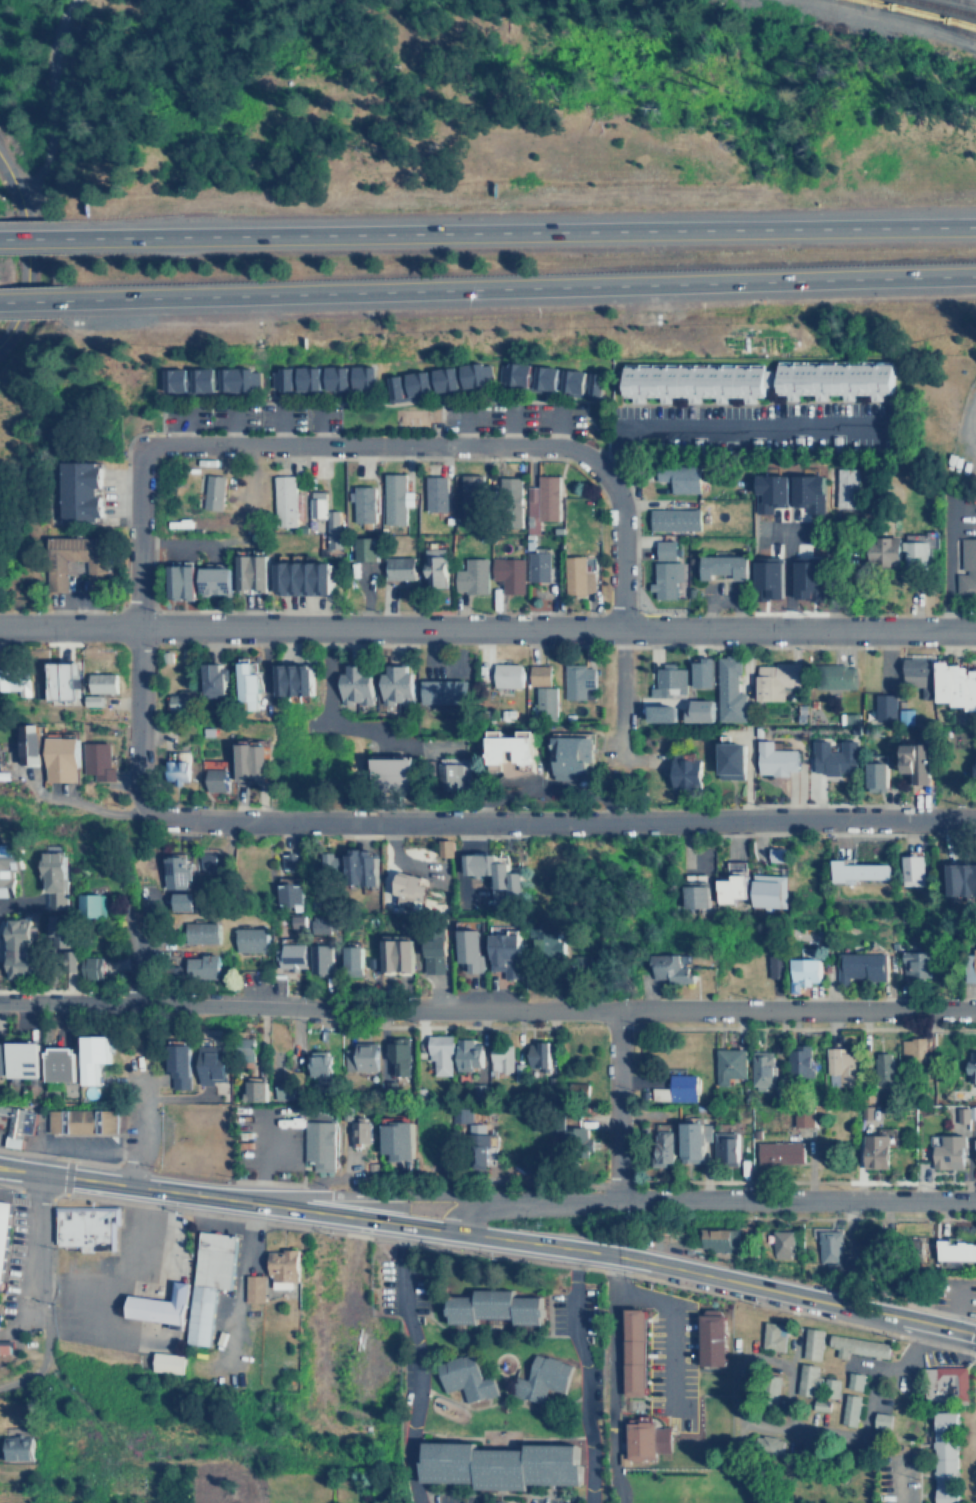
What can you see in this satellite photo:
railway: (944, 8)
railway: (921, 13)
railway: (925, 17)
park: (185, 18)
road: (48, 98)
road: (519, 228)
road: (31, 237)
road: (24, 249)
road: (522, 286)
road: (34, 301)
building: (831, 377)
building: (320, 379)
building: (544, 379)
building: (207, 380)
building: (690, 380)
building: (429, 381)
road: (186, 424)
road: (233, 424)
road: (465, 424)
road: (511, 424)
road: (559, 424)
road: (282, 425)
road: (318, 425)
road: (733, 426)
road: (376, 444)
road: (969, 448)
building: (677, 474)
building: (843, 487)
building: (76, 491)
building: (212, 492)
building: (769, 492)
building: (803, 493)
building: (436, 494)
building: (394, 497)
building: (470, 497)
building: (547, 498)
building: (284, 501)
building: (507, 501)
building: (315, 504)
building: (362, 504)
building: (673, 518)
building: (333, 529)
road: (139, 535)
road: (198, 546)
road: (620, 547)
building: (664, 548)
building: (363, 549)
building: (914, 552)
building: (879, 555)
road: (942, 561)
building: (433, 563)
building: (536, 565)
building: (721, 566)
building: (398, 568)
road: (829, 570)
road: (793, 571)
building: (965, 572)
building: (251, 573)
building: (507, 573)
building: (53, 575)
building: (576, 575)
building: (472, 576)
building: (666, 577)
building: (300, 578)
building: (769, 578)
building: (807, 578)
building: (178, 582)
building: (216, 582)
parking lot: (717, 591)
road: (722, 597)
road: (487, 627)
building: (185, 654)
building: (165, 656)
road: (430, 662)
building: (579, 665)
parking lot: (443, 667)
building: (706, 670)
building: (504, 675)
building: (210, 676)
building: (833, 676)
building: (914, 676)
road: (322, 677)
building: (537, 677)
building: (291, 678)
building: (13, 679)
building: (576, 679)
building: (59, 680)
building: (773, 680)
building: (99, 681)
building: (243, 681)
building: (667, 681)
building: (353, 683)
building: (954, 683)
building: (393, 684)
building: (728, 688)
building: (442, 691)
building: (89, 700)
road: (651, 701)
building: (175, 703)
building: (542, 704)
building: (881, 708)
building: (701, 710)
building: (667, 711)
building: (905, 716)
building: (568, 717)
road: (616, 719)
road: (140, 722)
road: (379, 738)
building: (30, 744)
building: (507, 752)
building: (571, 756)
building: (61, 759)
building: (727, 759)
building: (98, 760)
building: (248, 760)
building: (775, 760)
building: (912, 760)
building: (834, 761)
building: (400, 765)
building: (973, 769)
building: (176, 771)
building: (683, 774)
building: (873, 774)
building: (447, 776)
building: (213, 780)
road: (544, 792)
road: (516, 822)
building: (442, 847)
building: (774, 854)
building: (472, 862)
building: (212, 863)
building: (325, 863)
building: (282, 864)
building: (356, 865)
building: (9, 866)
building: (909, 869)
building: (855, 870)
building: (176, 871)
building: (959, 878)
building: (503, 879)
building: (404, 885)
building: (729, 887)
building: (282, 890)
building: (764, 891)
building: (692, 895)
building: (184, 901)
building: (93, 905)
building: (296, 921)
building: (323, 926)
building: (202, 932)
building: (251, 939)
road: (141, 946)
building: (550, 947)
building: (17, 948)
building: (472, 949)
building: (507, 953)
building: (396, 954)
building: (292, 955)
building: (436, 955)
building: (321, 958)
building: (69, 961)
building: (353, 961)
building: (916, 964)
building: (202, 966)
building: (775, 966)
building: (969, 966)
building: (92, 967)
building: (671, 967)
building: (861, 967)
building: (804, 973)
road: (487, 1008)
building: (914, 1047)
building: (247, 1049)
building: (441, 1053)
building: (468, 1055)
building: (538, 1055)
building: (93, 1057)
building: (361, 1057)
building: (398, 1057)
building: (501, 1058)
building: (1, 1059)
building: (24, 1060)
building: (800, 1061)
building: (212, 1064)
building: (60, 1065)
building: (179, 1065)
building: (730, 1065)
building: (972, 1066)
building: (321, 1067)
building: (884, 1067)
building: (763, 1070)
building: (683, 1088)
building: (255, 1091)
building: (660, 1093)
road: (615, 1105)
building: (966, 1114)
building: (804, 1118)
building: (78, 1120)
road: (141, 1121)
building: (15, 1126)
building: (361, 1132)
parking lot: (1, 1136)
building: (577, 1136)
building: (393, 1139)
parking lot: (25, 1141)
building: (693, 1141)
building: (974, 1143)
building: (316, 1145)
building: (478, 1146)
building: (663, 1147)
building: (725, 1147)
road: (77, 1148)
building: (876, 1151)
building: (780, 1152)
building: (949, 1152)
road: (126, 1185)
road: (372, 1192)
road: (734, 1201)
road: (471, 1211)
road: (355, 1217)
building: (3, 1224)
building: (85, 1225)
building: (716, 1238)
road: (536, 1244)
building: (780, 1244)
road: (29, 1247)
building: (952, 1250)
building: (832, 1256)
building: (1, 1263)
building: (280, 1267)
road: (672, 1268)
building: (206, 1281)
building: (252, 1287)
parking lot: (402, 1287)
building: (159, 1306)
road: (852, 1306)
building: (493, 1307)
road: (674, 1313)
road: (11, 1329)
building: (771, 1334)
building: (708, 1337)
building: (809, 1342)
building: (855, 1344)
building: (4, 1346)
building: (631, 1350)
building: (165, 1363)
road: (416, 1363)
building: (463, 1376)
road: (585, 1376)
building: (540, 1378)
building: (805, 1379)
building: (851, 1380)
building: (942, 1384)
building: (827, 1392)
building: (847, 1409)
building: (880, 1420)
building: (644, 1439)
building: (769, 1443)
building: (14, 1448)
building: (942, 1456)
building: (497, 1463)
road: (900, 1483)
parking lot: (447, 1498)
parking lot: (547, 1500)
building: (499, 1501)

